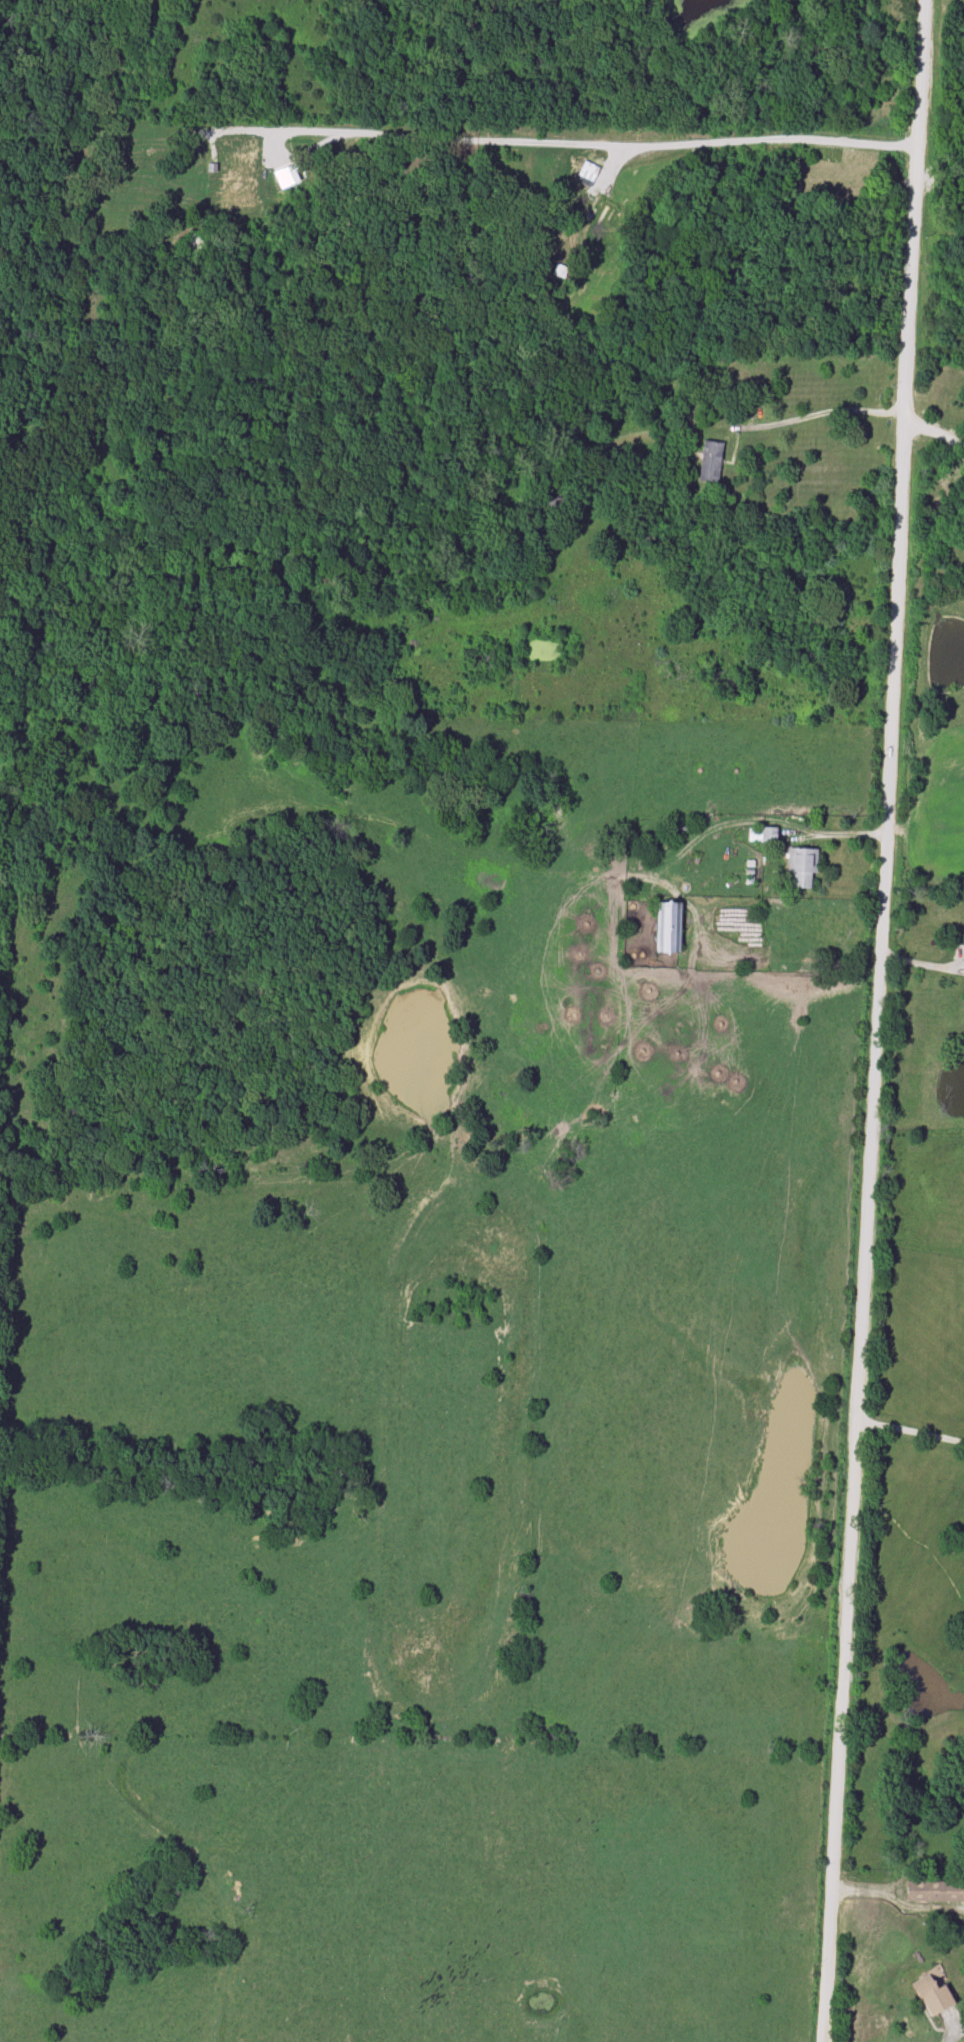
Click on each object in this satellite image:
building: (852, 85)
road: (554, 143)
building: (238, 160)
building: (588, 174)
building: (598, 222)
road: (823, 412)
road: (935, 434)
building: (710, 463)
building: (762, 835)
building: (802, 867)
building: (669, 927)
road: (879, 1021)
road: (911, 1432)
building: (935, 1892)
building: (936, 1998)

